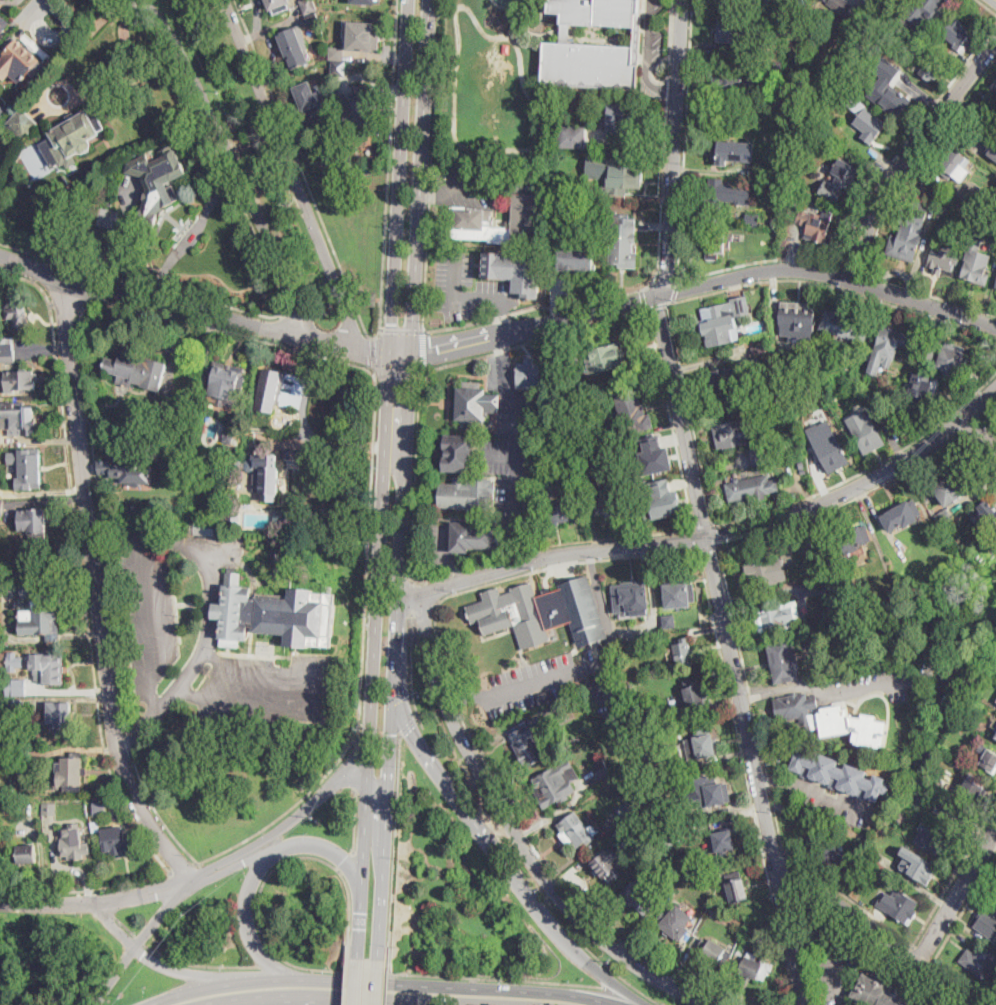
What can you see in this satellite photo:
road: (11, 0)
road: (995, 0)
building: (366, 2)
building: (719, 2)
building: (803, 2)
road: (506, 5)
building: (278, 6)
building: (308, 6)
road: (986, 7)
building: (920, 10)
building: (848, 11)
building: (598, 12)
building: (309, 20)
building: (1, 25)
building: (735, 30)
parking lot: (652, 34)
building: (364, 35)
building: (959, 36)
building: (933, 41)
building: (294, 47)
building: (928, 48)
building: (809, 49)
road: (670, 52)
building: (336, 54)
building: (776, 54)
road: (645, 57)
building: (20, 58)
road: (133, 64)
building: (588, 64)
road: (669, 66)
building: (933, 68)
building: (339, 69)
building: (733, 82)
road: (668, 87)
building: (994, 87)
building: (910, 92)
road: (45, 94)
building: (889, 97)
building: (310, 101)
building: (574, 101)
building: (3, 107)
building: (360, 107)
building: (866, 119)
building: (617, 120)
building: (992, 123)
building: (23, 124)
building: (630, 128)
building: (78, 133)
building: (573, 137)
road: (907, 138)
road: (684, 140)
road: (515, 148)
road: (675, 148)
building: (991, 150)
building: (728, 152)
road: (909, 152)
road: (918, 158)
road: (230, 165)
road: (388, 165)
road: (431, 165)
building: (955, 165)
building: (782, 169)
road: (337, 170)
building: (845, 173)
road: (294, 174)
road: (304, 175)
road: (400, 176)
road: (422, 176)
building: (624, 176)
building: (781, 182)
parking lot: (465, 185)
building: (563, 187)
road: (457, 188)
building: (799, 188)
building: (152, 191)
road: (663, 192)
building: (722, 196)
building: (934, 196)
building: (975, 196)
building: (946, 206)
building: (525, 208)
building: (107, 217)
building: (752, 219)
building: (818, 224)
building: (907, 238)
building: (624, 244)
building: (716, 246)
building: (943, 257)
building: (575, 258)
road: (760, 262)
building: (977, 263)
road: (37, 269)
road: (853, 269)
building: (516, 272)
road: (753, 273)
road: (16, 275)
road: (838, 275)
road: (665, 282)
road: (860, 283)
road: (282, 285)
parking lot: (491, 285)
road: (102, 287)
road: (676, 291)
road: (929, 295)
building: (372, 298)
road: (473, 300)
road: (644, 300)
road: (922, 302)
road: (65, 306)
road: (536, 306)
road: (657, 306)
road: (172, 307)
road: (347, 307)
building: (21, 312)
road: (299, 314)
road: (327, 314)
building: (798, 317)
building: (724, 320)
traffic signals: (393, 322)
road: (536, 326)
building: (846, 326)
road: (402, 329)
road: (533, 339)
building: (823, 339)
building: (890, 343)
road: (505, 346)
building: (7, 349)
road: (423, 349)
building: (759, 349)
traffic signals: (367, 351)
road: (369, 351)
traffic signals: (436, 351)
road: (373, 352)
road: (401, 352)
building: (929, 354)
building: (605, 358)
building: (952, 361)
building: (137, 371)
road: (397, 371)
building: (552, 371)
building: (529, 374)
building: (975, 375)
traffic signals: (411, 378)
building: (725, 379)
building: (21, 380)
building: (227, 380)
building: (923, 385)
building: (270, 388)
building: (475, 405)
building: (583, 407)
road: (690, 407)
road: (972, 409)
building: (633, 414)
building: (21, 415)
building: (830, 415)
road: (981, 416)
road: (972, 422)
road: (956, 423)
building: (208, 424)
building: (229, 433)
building: (735, 433)
building: (866, 433)
road: (980, 433)
road: (518, 443)
road: (92, 445)
building: (831, 450)
building: (460, 453)
building: (653, 454)
building: (764, 456)
road: (502, 457)
building: (235, 461)
building: (586, 461)
building: (802, 466)
building: (29, 469)
building: (126, 471)
road: (416, 472)
building: (588, 474)
building: (267, 476)
building: (949, 487)
building: (752, 488)
building: (659, 494)
building: (465, 496)
building: (612, 499)
building: (1, 504)
building: (563, 511)
building: (902, 515)
building: (984, 515)
building: (944, 517)
building: (234, 519)
building: (281, 520)
building: (33, 522)
building: (205, 527)
road: (706, 528)
road: (403, 530)
road: (695, 531)
building: (474, 536)
road: (717, 536)
road: (714, 537)
building: (855, 538)
road: (697, 540)
building: (807, 542)
road: (440, 549)
road: (520, 549)
road: (709, 549)
building: (277, 554)
building: (766, 570)
road: (462, 571)
road: (462, 572)
road: (533, 572)
road: (431, 578)
road: (82, 582)
building: (832, 585)
road: (98, 590)
building: (677, 593)
road: (411, 594)
building: (631, 599)
building: (38, 612)
building: (542, 612)
building: (274, 614)
building: (779, 618)
building: (669, 621)
road: (410, 633)
building: (3, 640)
building: (851, 642)
road: (731, 650)
building: (683, 652)
road: (375, 655)
road: (362, 657)
building: (14, 661)
building: (784, 662)
road: (811, 663)
building: (51, 667)
building: (0, 668)
road: (555, 673)
building: (987, 674)
road: (411, 687)
road: (863, 688)
building: (18, 690)
road: (772, 692)
building: (693, 694)
road: (750, 695)
building: (543, 699)
building: (995, 703)
building: (1, 705)
building: (557, 707)
building: (16, 708)
building: (798, 712)
building: (60, 716)
building: (569, 717)
building: (994, 723)
road: (407, 724)
traffic signals: (410, 729)
building: (862, 730)
building: (995, 730)
traffic signals: (393, 733)
building: (995, 736)
building: (995, 738)
building: (530, 744)
building: (701, 745)
road: (355, 756)
building: (989, 760)
building: (24, 763)
road: (359, 765)
building: (661, 765)
building: (70, 773)
building: (602, 773)
building: (838, 774)
building: (0, 776)
road: (769, 780)
road: (361, 781)
building: (552, 787)
road: (798, 787)
building: (974, 787)
building: (706, 793)
building: (917, 797)
building: (49, 809)
building: (99, 809)
building: (625, 811)
building: (669, 813)
building: (954, 814)
road: (355, 821)
building: (96, 825)
building: (576, 831)
building: (635, 831)
road: (386, 833)
road: (267, 836)
building: (675, 836)
road: (517, 838)
building: (934, 840)
building: (119, 841)
building: (723, 841)
building: (74, 844)
road: (394, 845)
building: (827, 852)
building: (26, 853)
road: (774, 853)
road: (245, 860)
road: (346, 861)
building: (608, 866)
building: (917, 866)
road: (182, 867)
road: (508, 867)
road: (260, 870)
building: (674, 870)
building: (716, 874)
building: (868, 876)
road: (3, 886)
building: (736, 887)
road: (89, 889)
road: (3, 892)
building: (705, 892)
building: (641, 896)
road: (957, 898)
road: (98, 902)
building: (901, 906)
building: (714, 909)
road: (257, 910)
road: (350, 912)
building: (987, 921)
road: (125, 925)
building: (673, 925)
road: (873, 930)
road: (139, 939)
road: (946, 939)
road: (141, 940)
building: (714, 952)
road: (923, 952)
building: (740, 953)
road: (835, 955)
road: (156, 962)
building: (979, 963)
road: (199, 964)
building: (757, 966)
road: (617, 973)
road: (474, 977)
road: (348, 981)
road: (357, 981)
road: (378, 982)
road: (387, 982)
road: (427, 985)
road: (193, 989)
building: (876, 993)
road: (360, 996)
road: (205, 1002)
road: (213, 1002)

